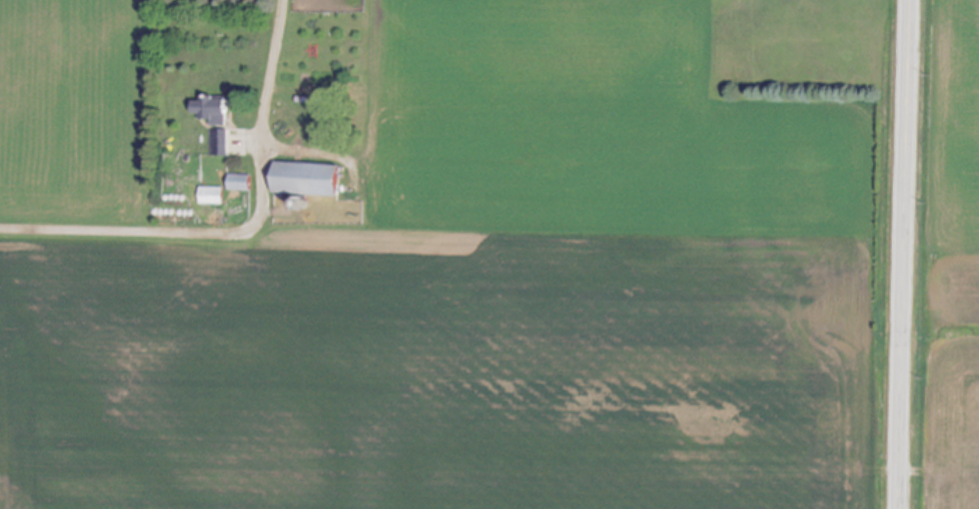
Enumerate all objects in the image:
building: (217, 111)
building: (220, 143)
building: (314, 180)
building: (243, 184)
building: (213, 197)
road: (244, 232)
road: (905, 254)

